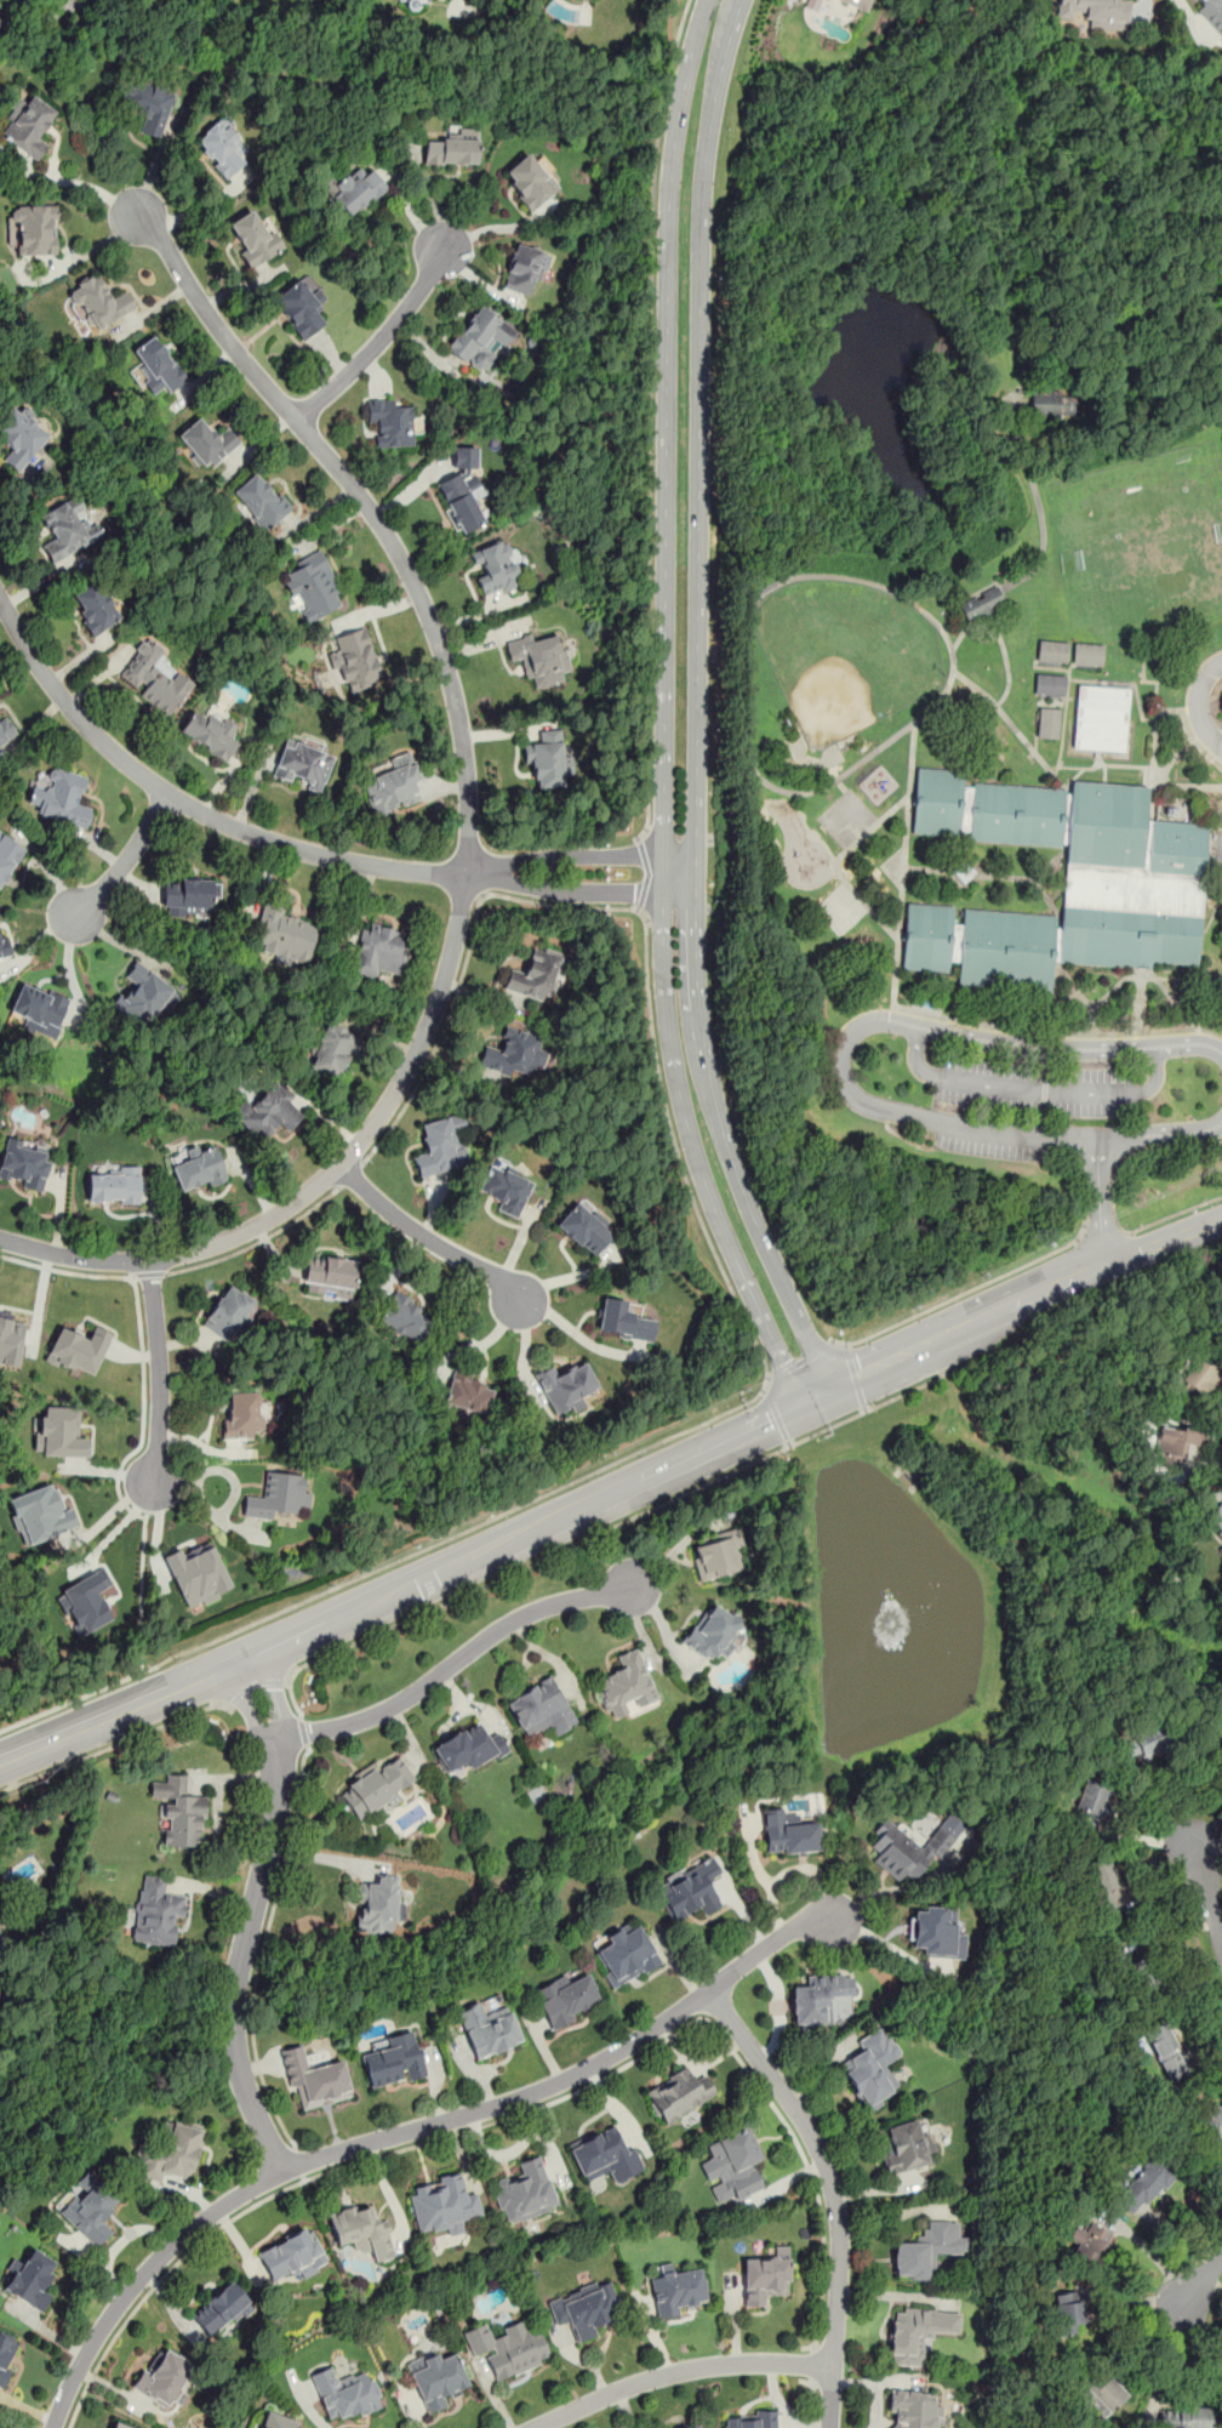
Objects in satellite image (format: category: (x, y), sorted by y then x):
building: (427, 0)
road: (64, 4)
building: (858, 4)
building: (812, 5)
building: (1212, 10)
building: (1096, 12)
road: (44, 15)
building: (150, 108)
building: (28, 126)
building: (222, 148)
building: (453, 148)
road: (1046, 171)
road: (80, 182)
building: (530, 182)
building: (356, 190)
building: (35, 230)
building: (252, 238)
building: (525, 269)
building: (99, 302)
building: (301, 307)
building: (480, 338)
road: (379, 340)
building: (159, 365)
road: (1138, 393)
building: (1053, 404)
road: (649, 421)
building: (392, 422)
building: (19, 437)
building: (206, 443)
road: (666, 451)
building: (463, 491)
road: (1037, 498)
building: (261, 501)
building: (68, 528)
building: (496, 568)
building: (313, 586)
building: (982, 604)
building: (95, 606)
road: (748, 620)
building: (1052, 651)
building: (1087, 652)
building: (541, 657)
building: (354, 660)
park: (977, 660)
building: (153, 677)
building: (1049, 684)
road: (696, 703)
road: (1197, 703)
building: (1100, 718)
building: (1047, 722)
building: (5, 729)
building: (209, 734)
building: (544, 762)
building: (303, 764)
building: (394, 783)
building: (63, 798)
road: (189, 808)
road: (468, 836)
building: (8, 856)
road: (126, 857)
road: (569, 857)
road: (644, 873)
road: (680, 878)
building: (1063, 882)
road: (566, 894)
building: (189, 895)
building: (284, 934)
building: (4, 945)
building: (382, 950)
building: (536, 975)
building: (144, 994)
building: (39, 1008)
road: (915, 1010)
road: (1070, 1048)
building: (331, 1051)
building: (516, 1053)
road: (843, 1070)
road: (1032, 1088)
building: (269, 1110)
road: (1015, 1134)
road: (1160, 1134)
building: (440, 1145)
parking lot: (984, 1150)
road: (1130, 1151)
road: (698, 1161)
building: (23, 1162)
building: (198, 1167)
road: (350, 1175)
building: (113, 1185)
building: (507, 1189)
road: (1098, 1203)
road: (1172, 1213)
building: (586, 1229)
road: (1100, 1237)
road: (258, 1241)
road: (434, 1242)
road: (148, 1276)
building: (329, 1276)
road: (963, 1293)
building: (229, 1313)
building: (404, 1317)
building: (623, 1321)
road: (750, 1332)
building: (10, 1340)
road: (142, 1340)
building: (78, 1349)
road: (800, 1360)
road: (159, 1374)
building: (1201, 1375)
road: (856, 1377)
building: (565, 1386)
building: (469, 1392)
traffic signals: (809, 1392)
road: (1220, 1401)
building: (242, 1417)
road: (776, 1417)
building: (59, 1432)
building: (1176, 1444)
road: (1207, 1461)
road: (609, 1489)
building: (278, 1495)
road: (199, 1499)
building: (41, 1512)
building: (1215, 1518)
road: (606, 1528)
building: (716, 1554)
building: (198, 1573)
road: (139, 1590)
building: (84, 1602)
building: (712, 1630)
road: (453, 1664)
road: (255, 1682)
building: (627, 1686)
building: (541, 1708)
road: (304, 1731)
building: (1142, 1742)
building: (1221, 1742)
road: (116, 1744)
building: (468, 1748)
building: (375, 1786)
building: (1093, 1803)
building: (181, 1813)
building: (788, 1834)
building: (906, 1850)
building: (1104, 1885)
building: (691, 1888)
road: (1207, 1890)
building: (378, 1904)
building: (156, 1913)
road: (251, 1917)
building: (936, 1931)
building: (1123, 1942)
building: (2, 1945)
road: (262, 1950)
building: (626, 1954)
building: (1146, 1978)
building: (569, 1997)
building: (818, 1997)
building: (487, 2029)
road: (678, 2030)
building: (1166, 2052)
building: (394, 2059)
building: (872, 2068)
building: (314, 2080)
building: (678, 2094)
building: (1211, 2127)
road: (406, 2130)
building: (907, 2147)
building: (170, 2153)
building: (604, 2155)
road: (823, 2160)
building: (733, 2162)
road: (298, 2164)
building: (1146, 2185)
building: (525, 2192)
building: (442, 2204)
building: (90, 2207)
building: (362, 2230)
building: (1089, 2242)
building: (926, 2250)
building: (292, 2255)
building: (765, 2278)
building: (30, 2279)
road: (160, 2279)
road: (1201, 2280)
building: (678, 2290)
building: (586, 2307)
building: (221, 2308)
building: (1068, 2313)
building: (916, 2332)
building: (508, 2348)
building: (6, 2354)
road: (812, 2361)
road: (679, 2371)
building: (162, 2377)
building: (436, 2378)
building: (1106, 2390)
building: (344, 2393)
road: (830, 2396)
road: (304, 2403)
road: (813, 2403)
building: (913, 2409)
building: (1186, 2418)
building: (273, 2421)
building: (752, 2421)
building: (115, 2426)
building: (693, 2426)

